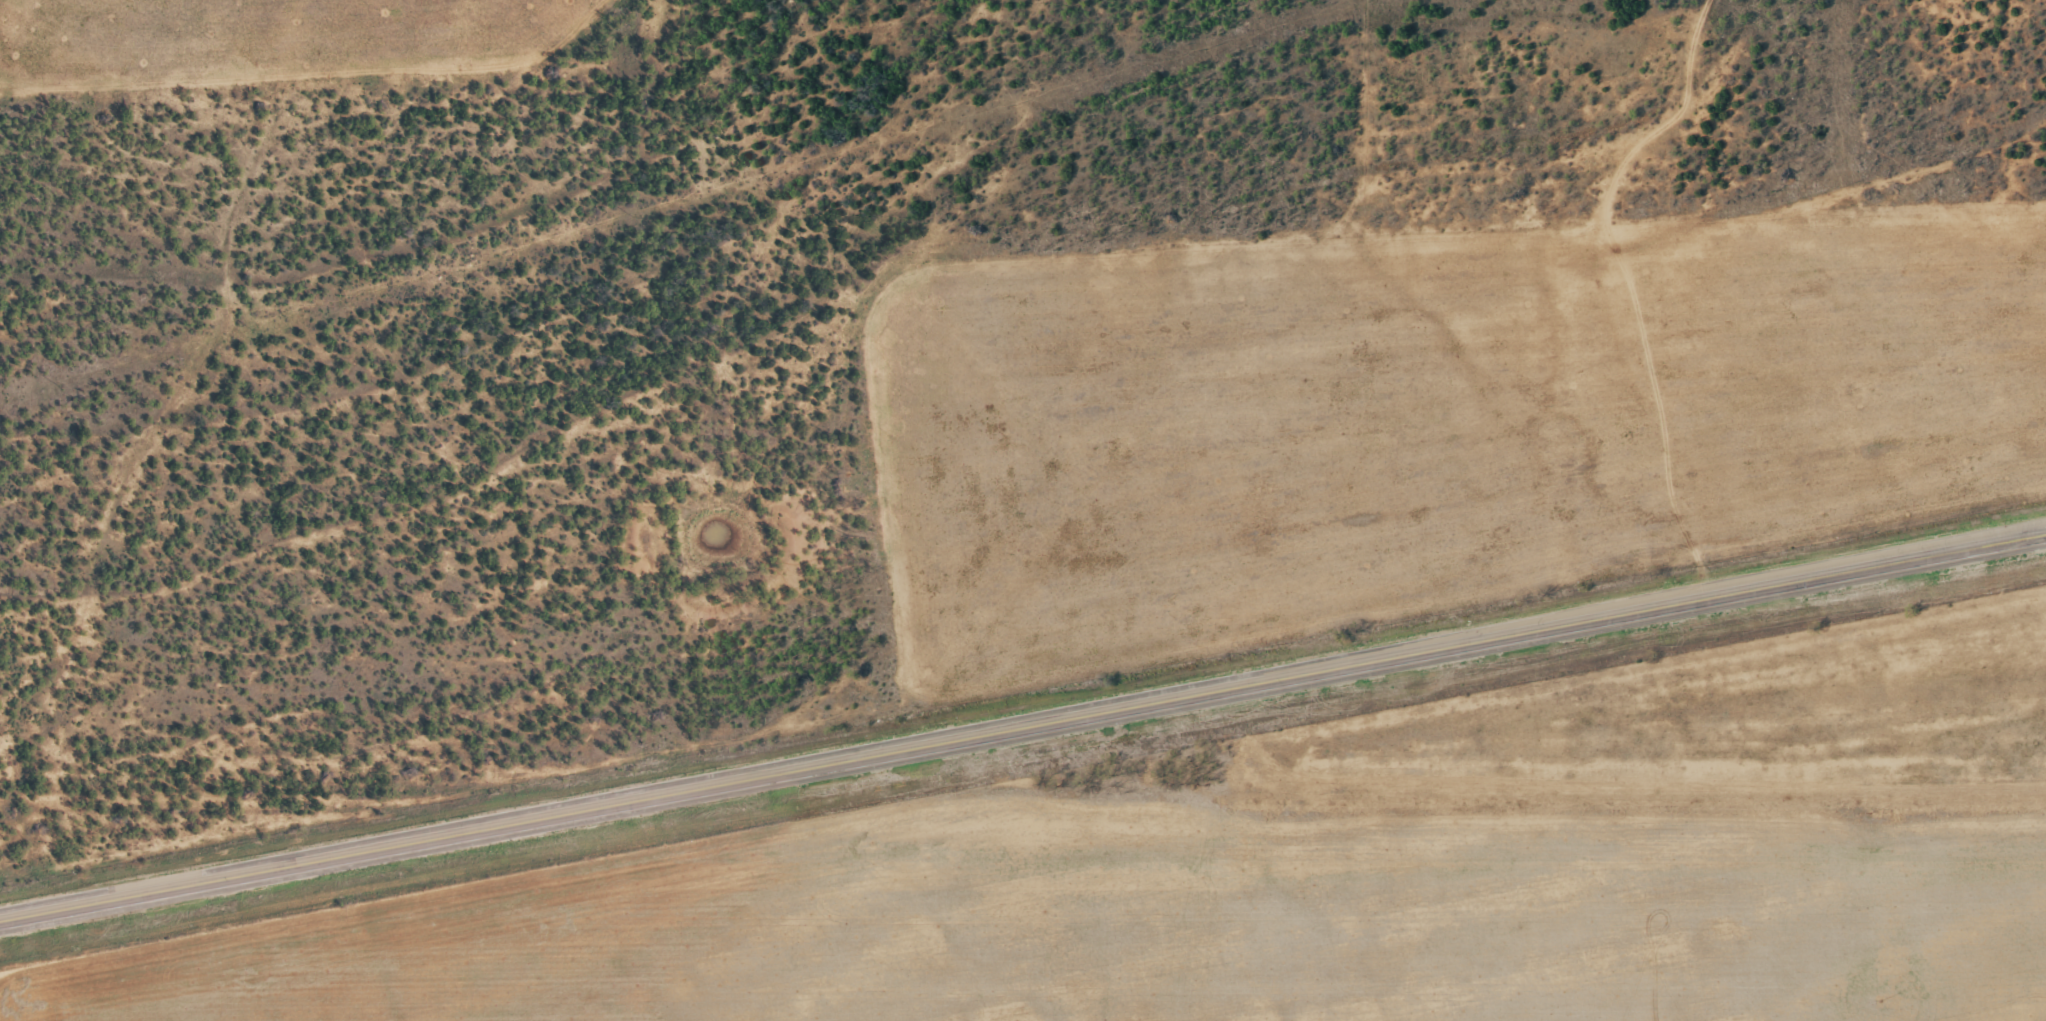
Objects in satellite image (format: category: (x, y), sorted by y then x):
road: (1024, 731)

